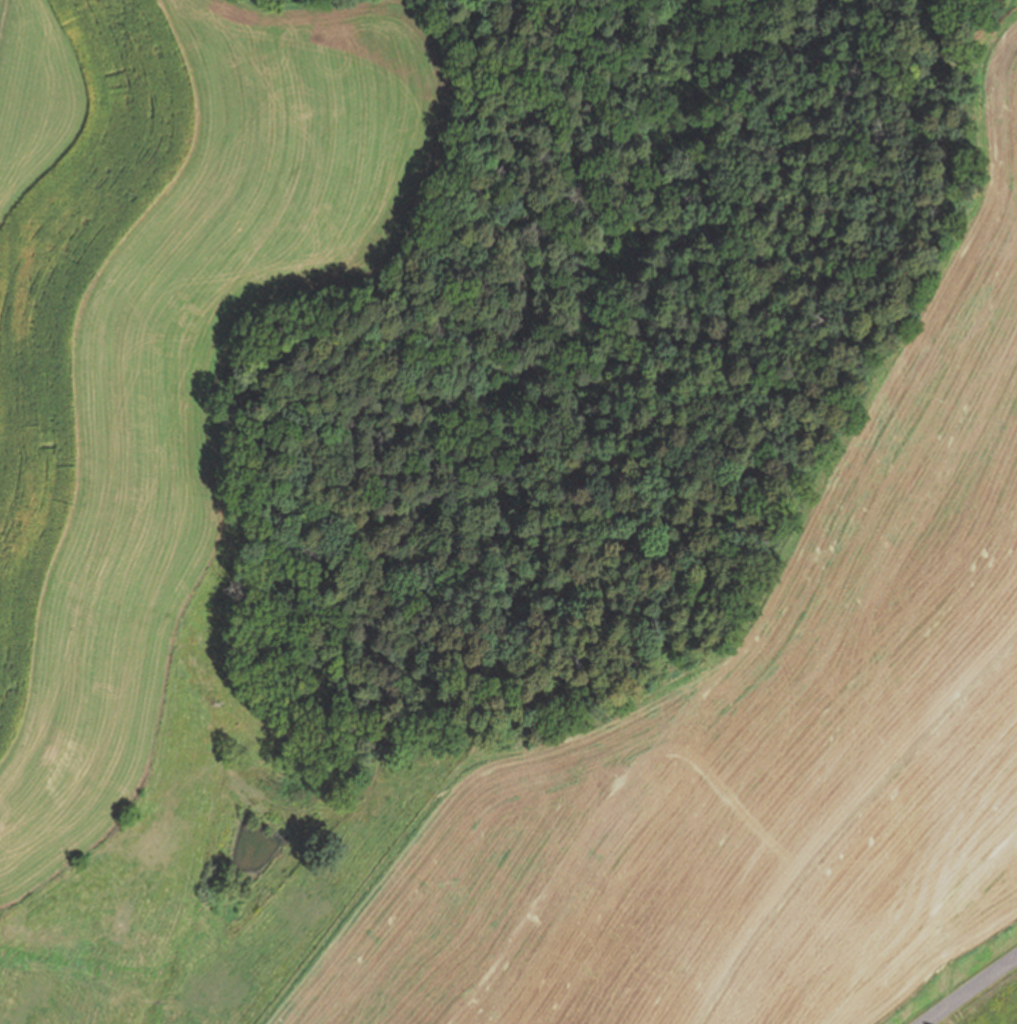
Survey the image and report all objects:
road: (971, 991)

